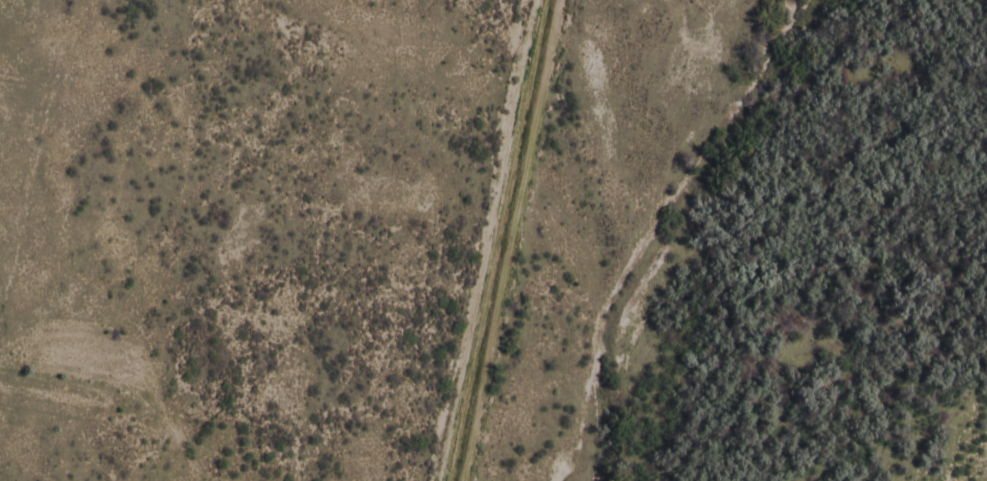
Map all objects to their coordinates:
road: (486, 240)
road: (509, 240)

